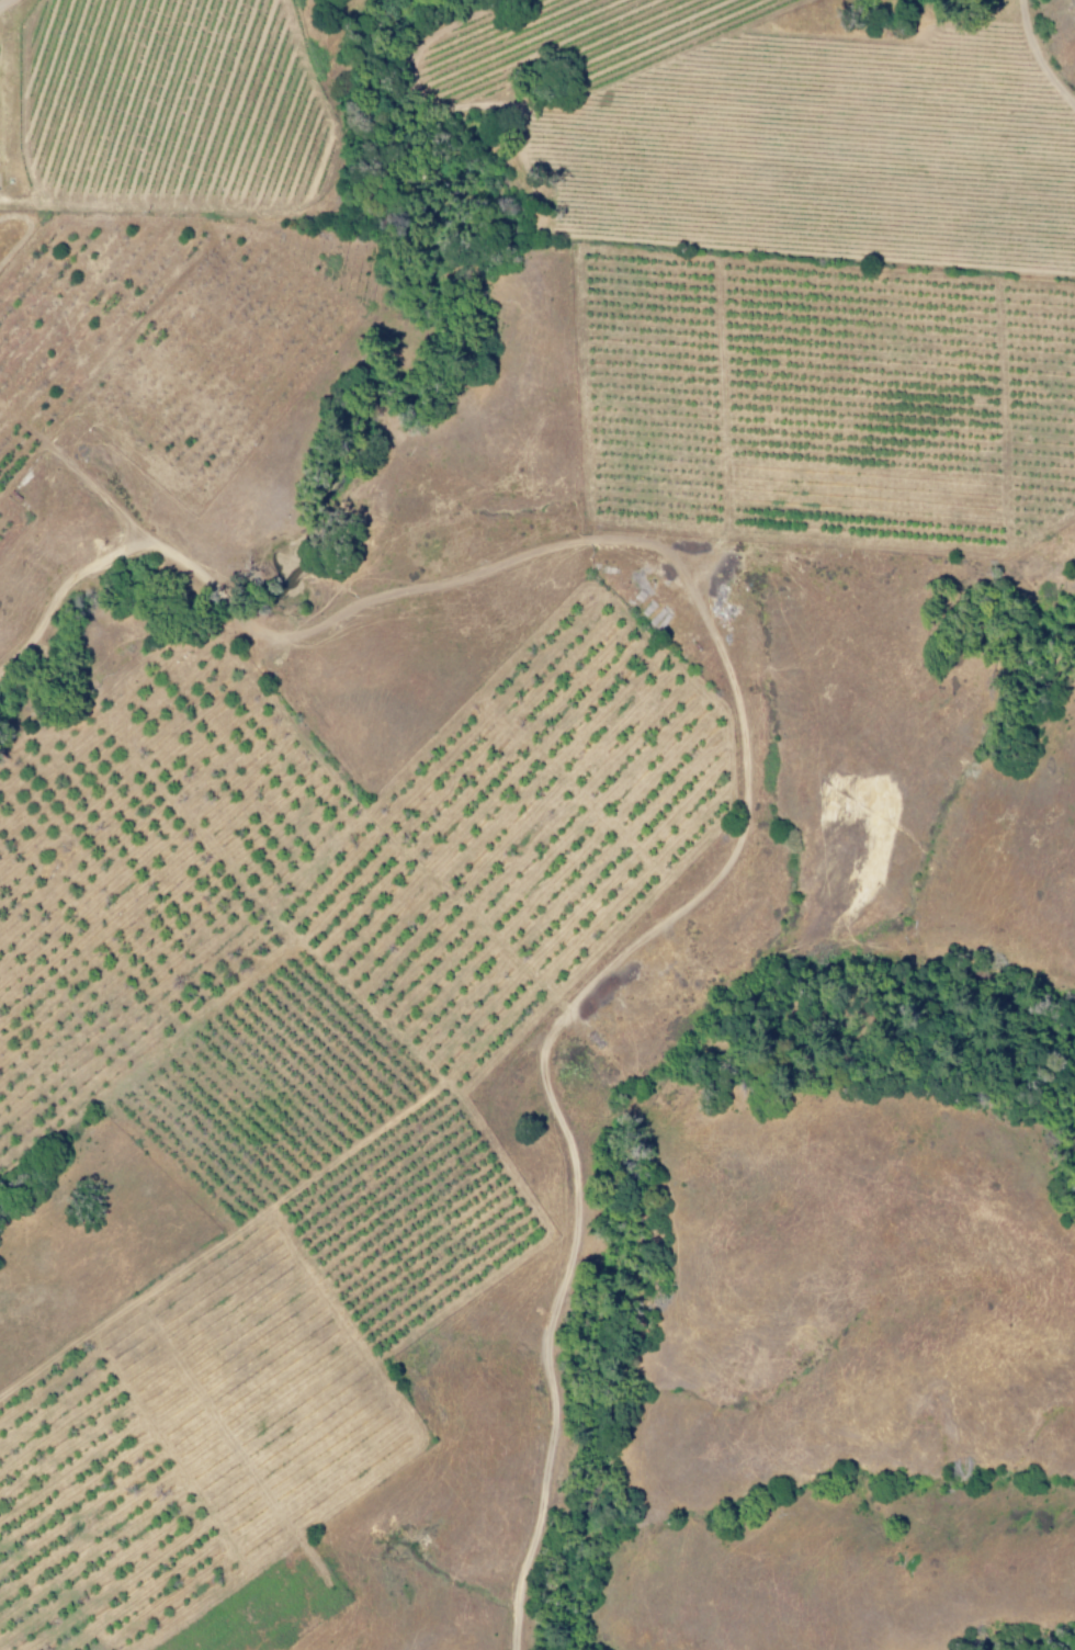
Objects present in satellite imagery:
road: (624, 804)

